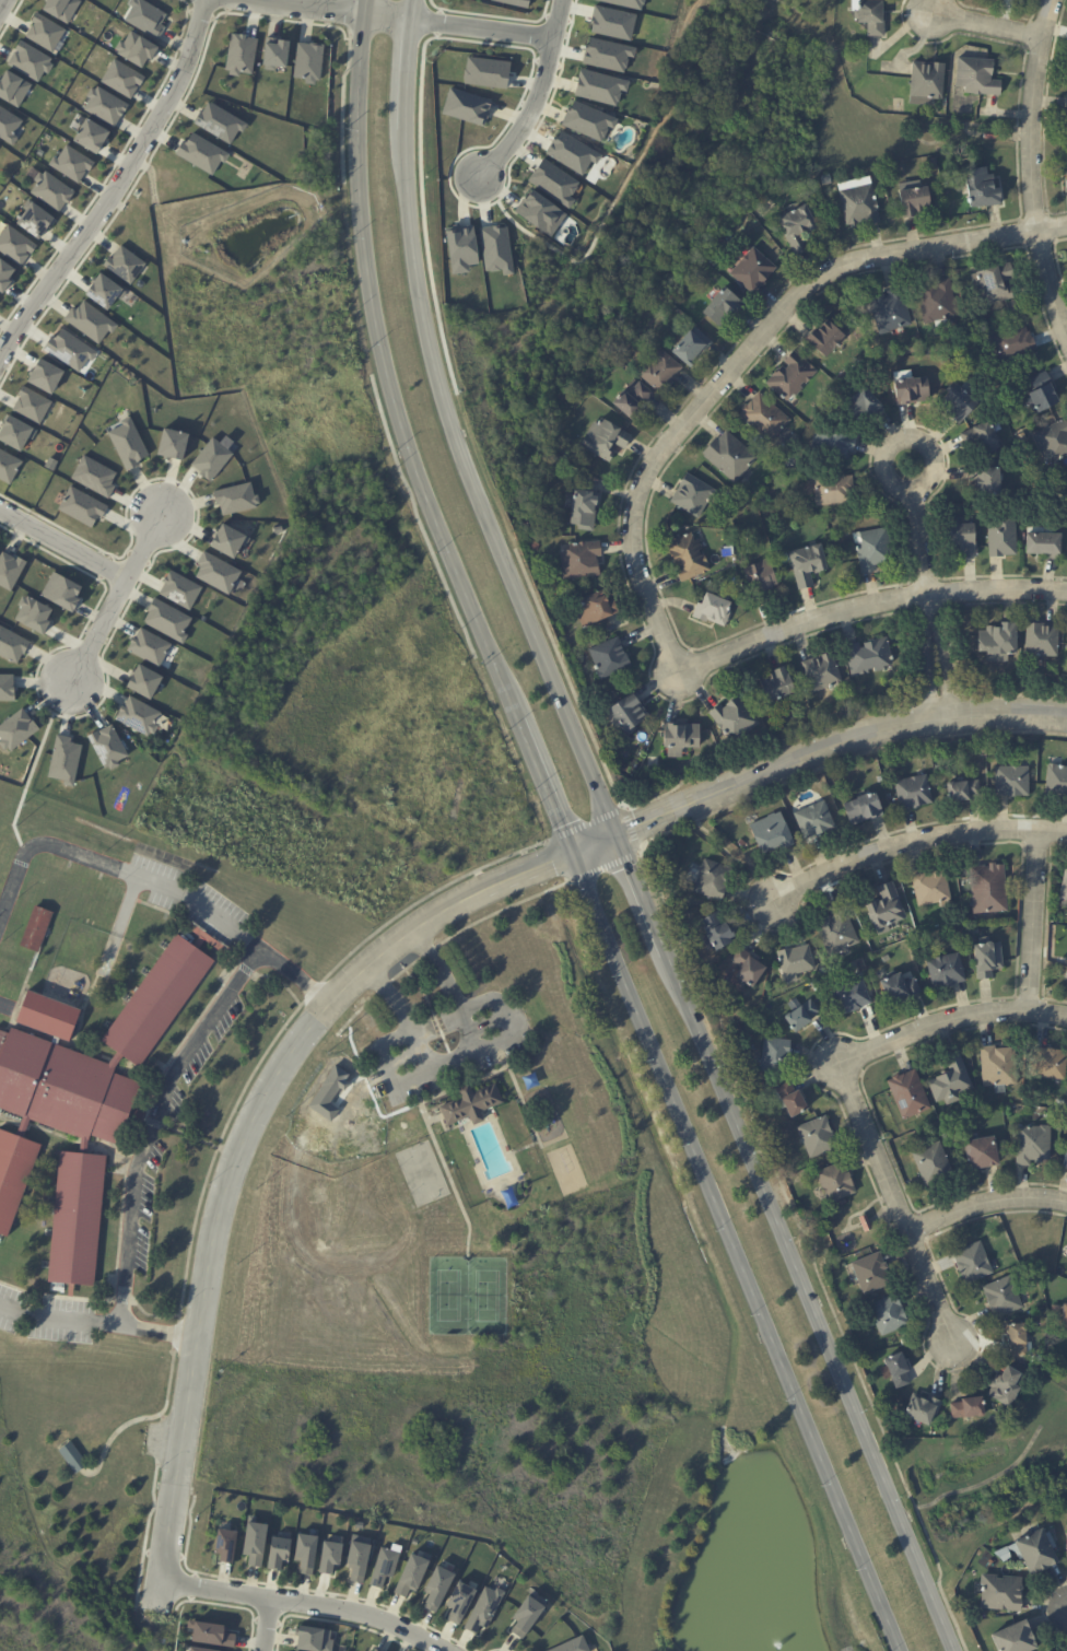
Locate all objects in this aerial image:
road: (1, 2)
building: (518, 2)
building: (629, 2)
building: (61, 9)
building: (870, 17)
building: (144, 19)
road: (395, 20)
building: (613, 22)
road: (983, 24)
building: (45, 32)
building: (136, 49)
building: (608, 54)
building: (239, 55)
building: (275, 55)
building: (28, 60)
building: (308, 61)
building: (488, 72)
building: (977, 78)
building: (121, 79)
building: (926, 84)
building: (600, 86)
building: (13, 87)
road: (537, 95)
building: (104, 105)
building: (467, 106)
building: (1066, 106)
building: (588, 120)
building: (219, 122)
building: (8, 126)
building: (91, 136)
building: (990, 136)
building: (572, 152)
building: (200, 153)
building: (71, 163)
building: (934, 164)
road: (1033, 168)
building: (1066, 176)
building: (825, 180)
building: (554, 183)
road: (115, 186)
building: (50, 190)
building: (983, 190)
road: (618, 192)
building: (913, 201)
building: (858, 202)
building: (540, 212)
building: (34, 219)
building: (797, 230)
building: (15, 245)
building: (461, 247)
building: (496, 249)
building: (714, 261)
building: (124, 264)
building: (753, 269)
building: (4, 274)
building: (993, 286)
building: (104, 291)
building: (936, 304)
building: (723, 306)
building: (890, 313)
building: (90, 321)
building: (825, 340)
building: (691, 346)
building: (1012, 346)
building: (69, 350)
building: (659, 370)
building: (46, 375)
building: (790, 378)
building: (842, 378)
building: (910, 389)
building: (1041, 395)
building: (631, 400)
building: (31, 405)
building: (958, 406)
building: (863, 407)
building: (764, 419)
road: (917, 431)
building: (14, 432)
building: (603, 438)
building: (983, 440)
building: (1053, 442)
building: (127, 443)
building: (173, 444)
building: (833, 446)
road: (666, 452)
building: (770, 454)
building: (212, 457)
building: (729, 458)
building: (50, 462)
building: (8, 466)
building: (775, 469)
building: (94, 477)
building: (1066, 477)
building: (1066, 479)
building: (986, 482)
building: (1063, 491)
building: (833, 492)
building: (235, 497)
building: (692, 497)
building: (81, 506)
building: (583, 510)
building: (278, 528)
building: (963, 539)
building: (1001, 539)
building: (227, 540)
road: (63, 541)
road: (923, 542)
building: (1044, 546)
building: (535, 547)
building: (875, 551)
building: (688, 558)
building: (579, 560)
building: (807, 566)
building: (10, 570)
building: (215, 572)
building: (761, 583)
building: (178, 588)
road: (997, 588)
building: (61, 592)
road: (114, 599)
building: (594, 608)
building: (33, 613)
building: (712, 613)
building: (166, 619)
building: (1042, 643)
building: (12, 644)
building: (998, 644)
building: (148, 646)
building: (1066, 651)
road: (948, 653)
road: (922, 657)
building: (609, 658)
building: (869, 658)
building: (822, 676)
building: (142, 680)
building: (7, 687)
building: (775, 688)
building: (137, 715)
building: (626, 716)
building: (734, 722)
building: (16, 729)
building: (680, 740)
building: (106, 746)
road: (812, 754)
building: (65, 760)
road: (31, 770)
building: (880, 780)
building: (1008, 782)
building: (1054, 783)
building: (962, 791)
building: (913, 793)
building: (863, 810)
building: (814, 821)
building: (771, 834)
road: (621, 838)
road: (566, 839)
road: (910, 842)
building: (741, 843)
building: (713, 880)
road: (153, 887)
building: (931, 888)
building: (988, 890)
building: (1065, 891)
parking lot: (187, 897)
building: (884, 912)
road: (1034, 920)
road: (117, 926)
building: (35, 928)
building: (973, 929)
building: (717, 933)
building: (836, 933)
building: (988, 960)
building: (797, 964)
building: (747, 970)
building: (822, 971)
building: (946, 972)
building: (1066, 977)
building: (711, 984)
building: (899, 990)
building: (851, 997)
building: (152, 1004)
road: (4, 1009)
road: (430, 1009)
building: (43, 1018)
building: (800, 1018)
road: (950, 1022)
road: (354, 1051)
road: (455, 1053)
parking lot: (200, 1057)
building: (775, 1057)
building: (1050, 1065)
road: (504, 1067)
building: (998, 1068)
building: (951, 1082)
building: (59, 1090)
building: (329, 1092)
road: (372, 1093)
building: (908, 1096)
building: (792, 1101)
building: (470, 1103)
road: (425, 1120)
road: (149, 1125)
building: (817, 1138)
building: (1033, 1146)
road: (525, 1147)
road: (235, 1151)
building: (982, 1156)
building: (1066, 1163)
building: (933, 1166)
park: (421, 1173)
building: (11, 1174)
road: (450, 1183)
building: (836, 1184)
building: (843, 1203)
road: (895, 1203)
road: (880, 1204)
parking lot: (144, 1210)
road: (856, 1214)
road: (986, 1214)
road: (875, 1216)
building: (70, 1219)
building: (865, 1225)
road: (855, 1227)
building: (972, 1264)
building: (871, 1274)
park: (467, 1295)
building: (1002, 1298)
building: (889, 1316)
parking lot: (44, 1319)
building: (1065, 1321)
road: (97, 1324)
building: (1018, 1342)
building: (1036, 1361)
building: (898, 1372)
building: (1005, 1390)
building: (968, 1410)
building: (923, 1413)
road: (160, 1416)
road: (140, 1419)
parking lot: (153, 1439)
building: (71, 1457)
park: (78, 1495)
road: (144, 1533)
building: (255, 1543)
building: (225, 1544)
building: (1066, 1545)
building: (304, 1552)
building: (1032, 1552)
building: (279, 1553)
building: (330, 1556)
building: (357, 1560)
building: (384, 1564)
building: (412, 1573)
building: (439, 1584)
building: (1001, 1592)
building: (460, 1602)
road: (304, 1608)
building: (484, 1609)
building: (528, 1615)
road: (260, 1627)
fountain: (767, 1629)
building: (211, 1634)
building: (315, 1639)
building: (1016, 1639)
building: (573, 1646)
building: (202, 1649)
building: (374, 1650)

